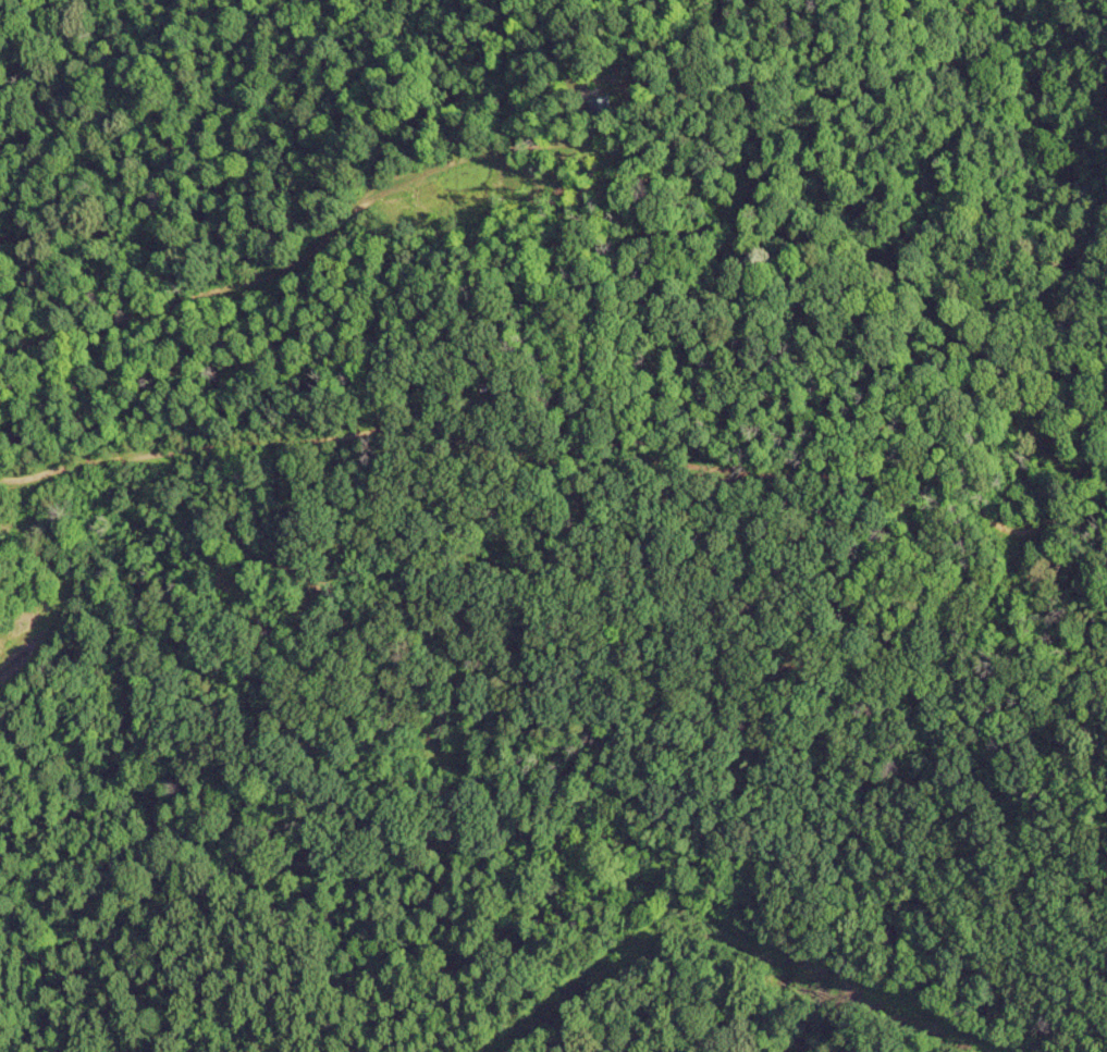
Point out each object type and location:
road: (1048, 540)

